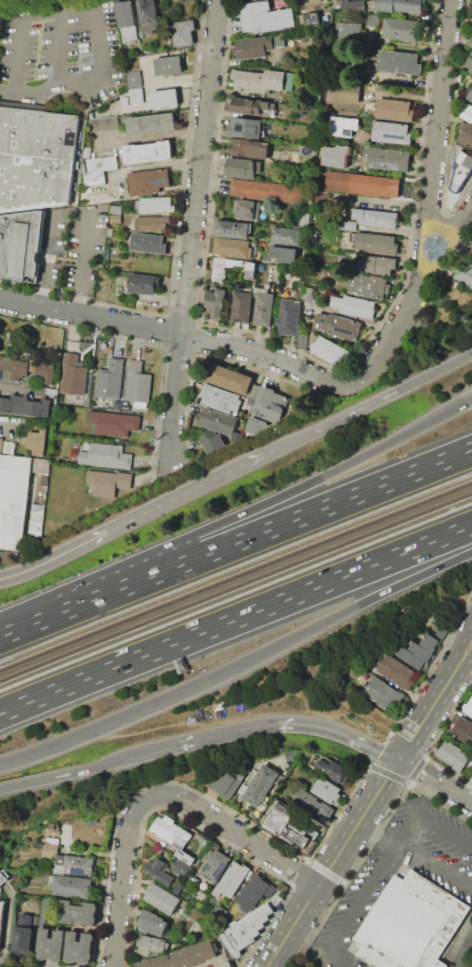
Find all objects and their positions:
building: (314, 1)
building: (400, 5)
building: (353, 6)
building: (254, 15)
building: (148, 16)
building: (301, 18)
building: (279, 19)
building: (313, 19)
building: (373, 19)
building: (127, 20)
building: (471, 21)
road: (95, 23)
building: (403, 29)
building: (349, 30)
building: (183, 32)
road: (18, 35)
building: (470, 42)
road: (58, 46)
building: (253, 47)
parking lot: (61, 54)
building: (470, 60)
building: (400, 62)
building: (168, 65)
road: (65, 74)
building: (134, 79)
road: (77, 80)
building: (260, 81)
building: (289, 81)
road: (6, 91)
building: (347, 91)
road: (35, 93)
building: (317, 95)
building: (470, 95)
building: (136, 96)
building: (164, 98)
building: (124, 101)
building: (249, 105)
building: (394, 110)
building: (468, 112)
building: (102, 123)
building: (151, 123)
building: (344, 125)
building: (246, 127)
building: (392, 132)
building: (466, 133)
road: (435, 144)
building: (250, 148)
building: (87, 152)
building: (147, 152)
building: (337, 155)
building: (36, 158)
building: (388, 158)
building: (465, 159)
building: (102, 163)
building: (243, 167)
building: (94, 178)
building: (148, 181)
building: (360, 183)
building: (266, 191)
building: (157, 204)
building: (246, 209)
building: (116, 210)
road: (78, 211)
building: (374, 217)
building: (115, 219)
building: (153, 224)
building: (351, 226)
road: (193, 227)
building: (232, 228)
building: (285, 236)
building: (148, 242)
building: (376, 243)
building: (20, 245)
building: (232, 247)
parking lot: (73, 250)
building: (282, 254)
building: (376, 264)
building: (465, 273)
building: (218, 274)
building: (142, 283)
building: (367, 285)
road: (412, 299)
building: (215, 303)
building: (354, 305)
building: (242, 307)
building: (264, 309)
building: (289, 318)
building: (339, 326)
road: (176, 333)
park: (433, 334)
building: (56, 348)
building: (331, 350)
building: (4, 362)
building: (19, 369)
building: (46, 373)
building: (73, 375)
building: (110, 379)
building: (234, 380)
building: (137, 383)
road: (20, 386)
building: (51, 391)
building: (220, 399)
road: (374, 402)
building: (270, 404)
building: (25, 406)
road: (10, 418)
building: (217, 421)
building: (114, 422)
building: (255, 424)
building: (237, 436)
building: (36, 441)
building: (211, 441)
building: (0, 443)
building: (106, 456)
road: (426, 466)
building: (108, 482)
building: (13, 499)
road: (138, 517)
road: (237, 518)
building: (36, 519)
road: (190, 560)
railway: (235, 575)
railway: (235, 585)
road: (236, 618)
road: (309, 629)
road: (461, 641)
building: (421, 649)
road: (466, 658)
building: (396, 671)
building: (384, 694)
building: (469, 708)
road: (429, 711)
road: (286, 723)
building: (462, 729)
road: (74, 738)
road: (433, 742)
building: (291, 755)
building: (454, 755)
traffic signals: (398, 761)
building: (333, 770)
road: (85, 771)
building: (471, 778)
road: (435, 780)
building: (226, 782)
building: (261, 785)
building: (326, 790)
road: (158, 794)
building: (313, 804)
building: (271, 811)
road: (375, 833)
building: (298, 834)
building: (173, 835)
building: (50, 849)
road: (385, 853)
building: (165, 854)
road: (433, 862)
road: (333, 864)
building: (74, 865)
building: (214, 865)
building: (181, 867)
building: (159, 871)
building: (2, 877)
building: (232, 879)
building: (46, 880)
building: (71, 886)
building: (178, 888)
building: (270, 891)
building: (253, 893)
parking lot: (405, 896)
building: (162, 898)
building: (44, 910)
building: (78, 913)
building: (219, 913)
building: (1, 915)
building: (193, 918)
building: (29, 920)
building: (152, 923)
building: (414, 923)
building: (246, 929)
building: (23, 941)
building: (51, 945)
building: (152, 945)
building: (79, 948)
road: (463, 948)
road: (315, 950)
building: (182, 957)
park: (470, 961)
building: (225, 964)
road: (268, 966)
parking lot: (302, 966)

